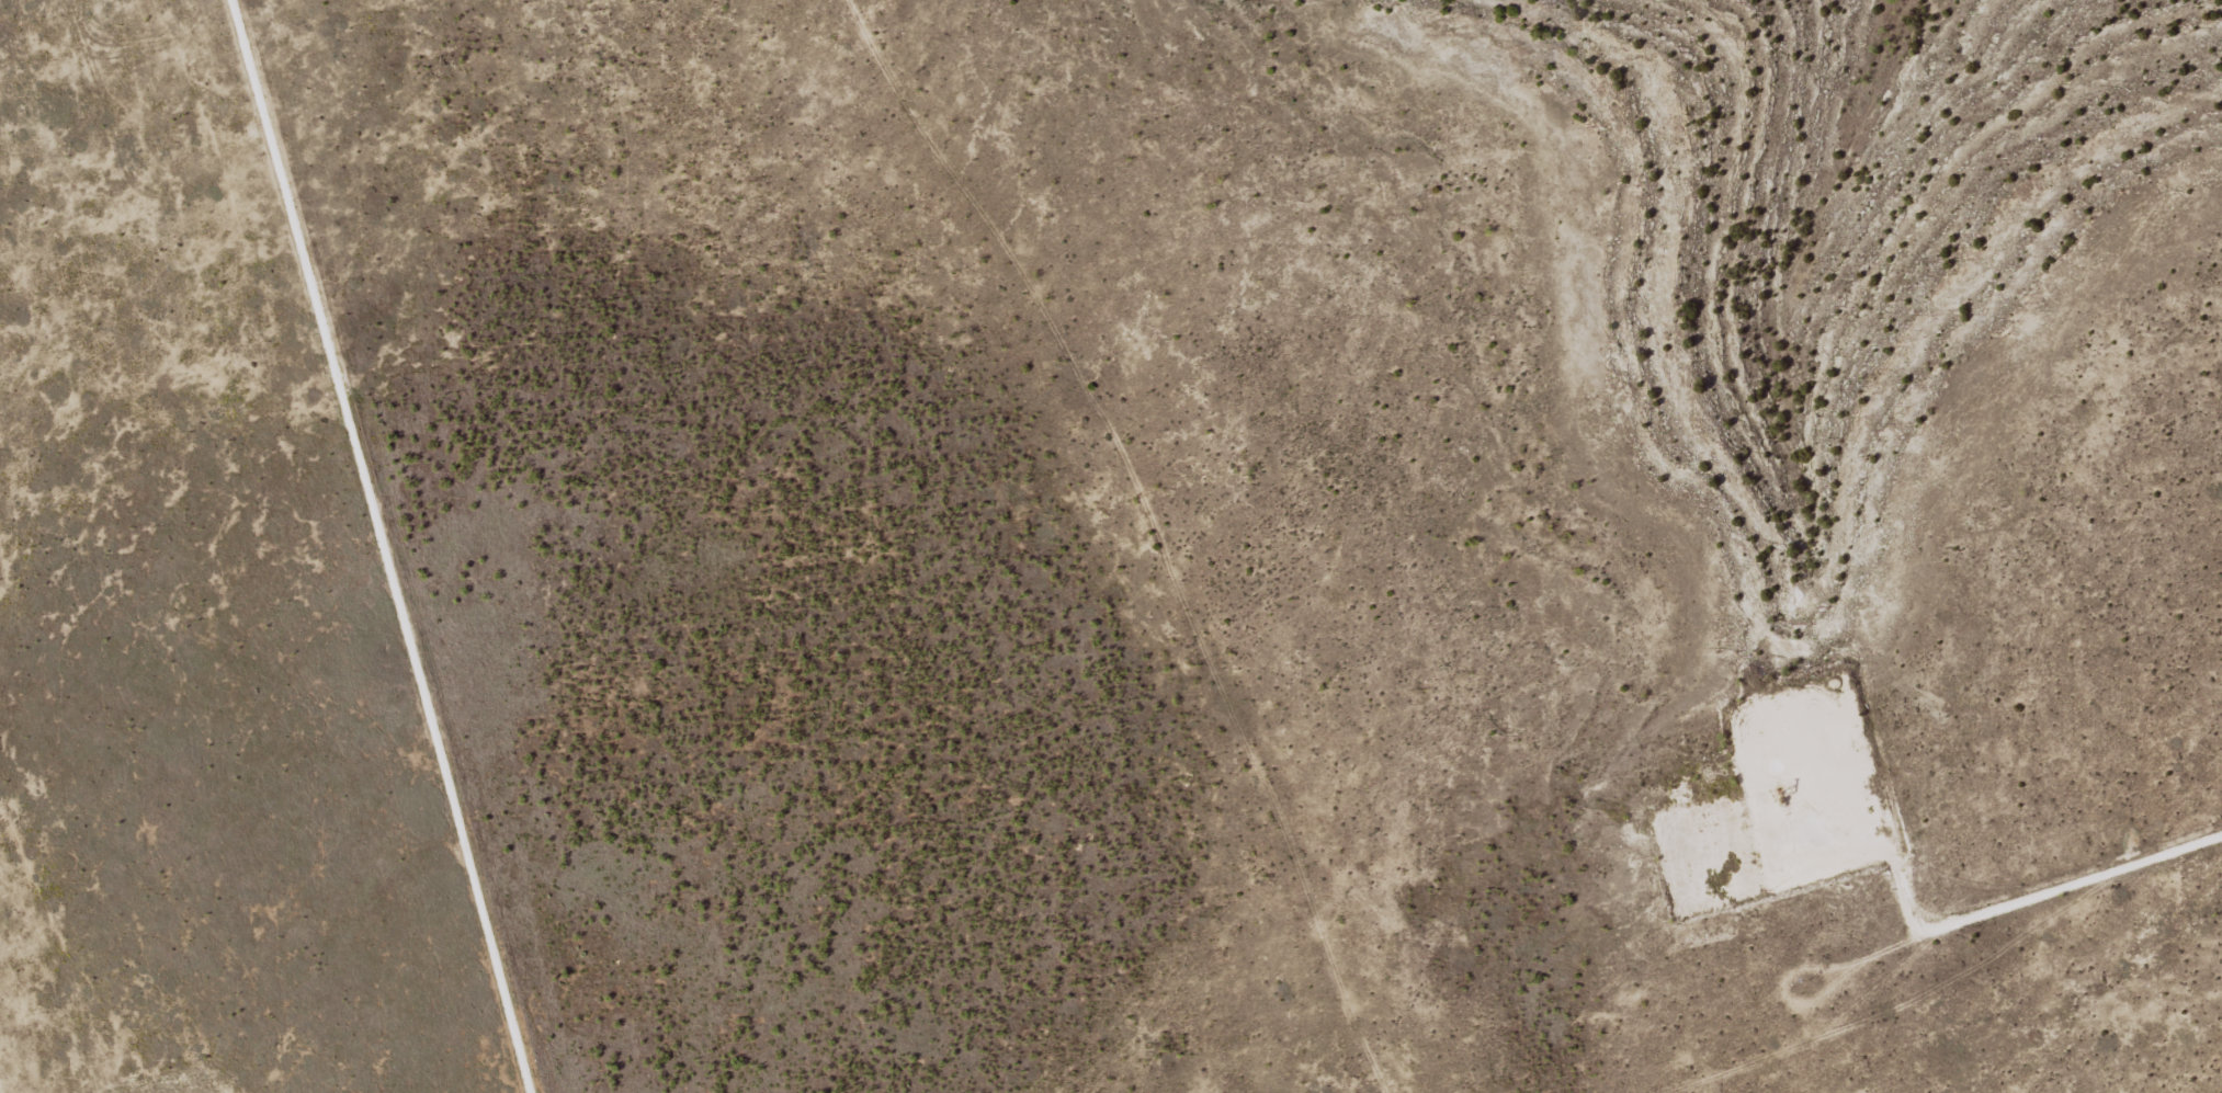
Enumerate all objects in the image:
road: (407, 546)

